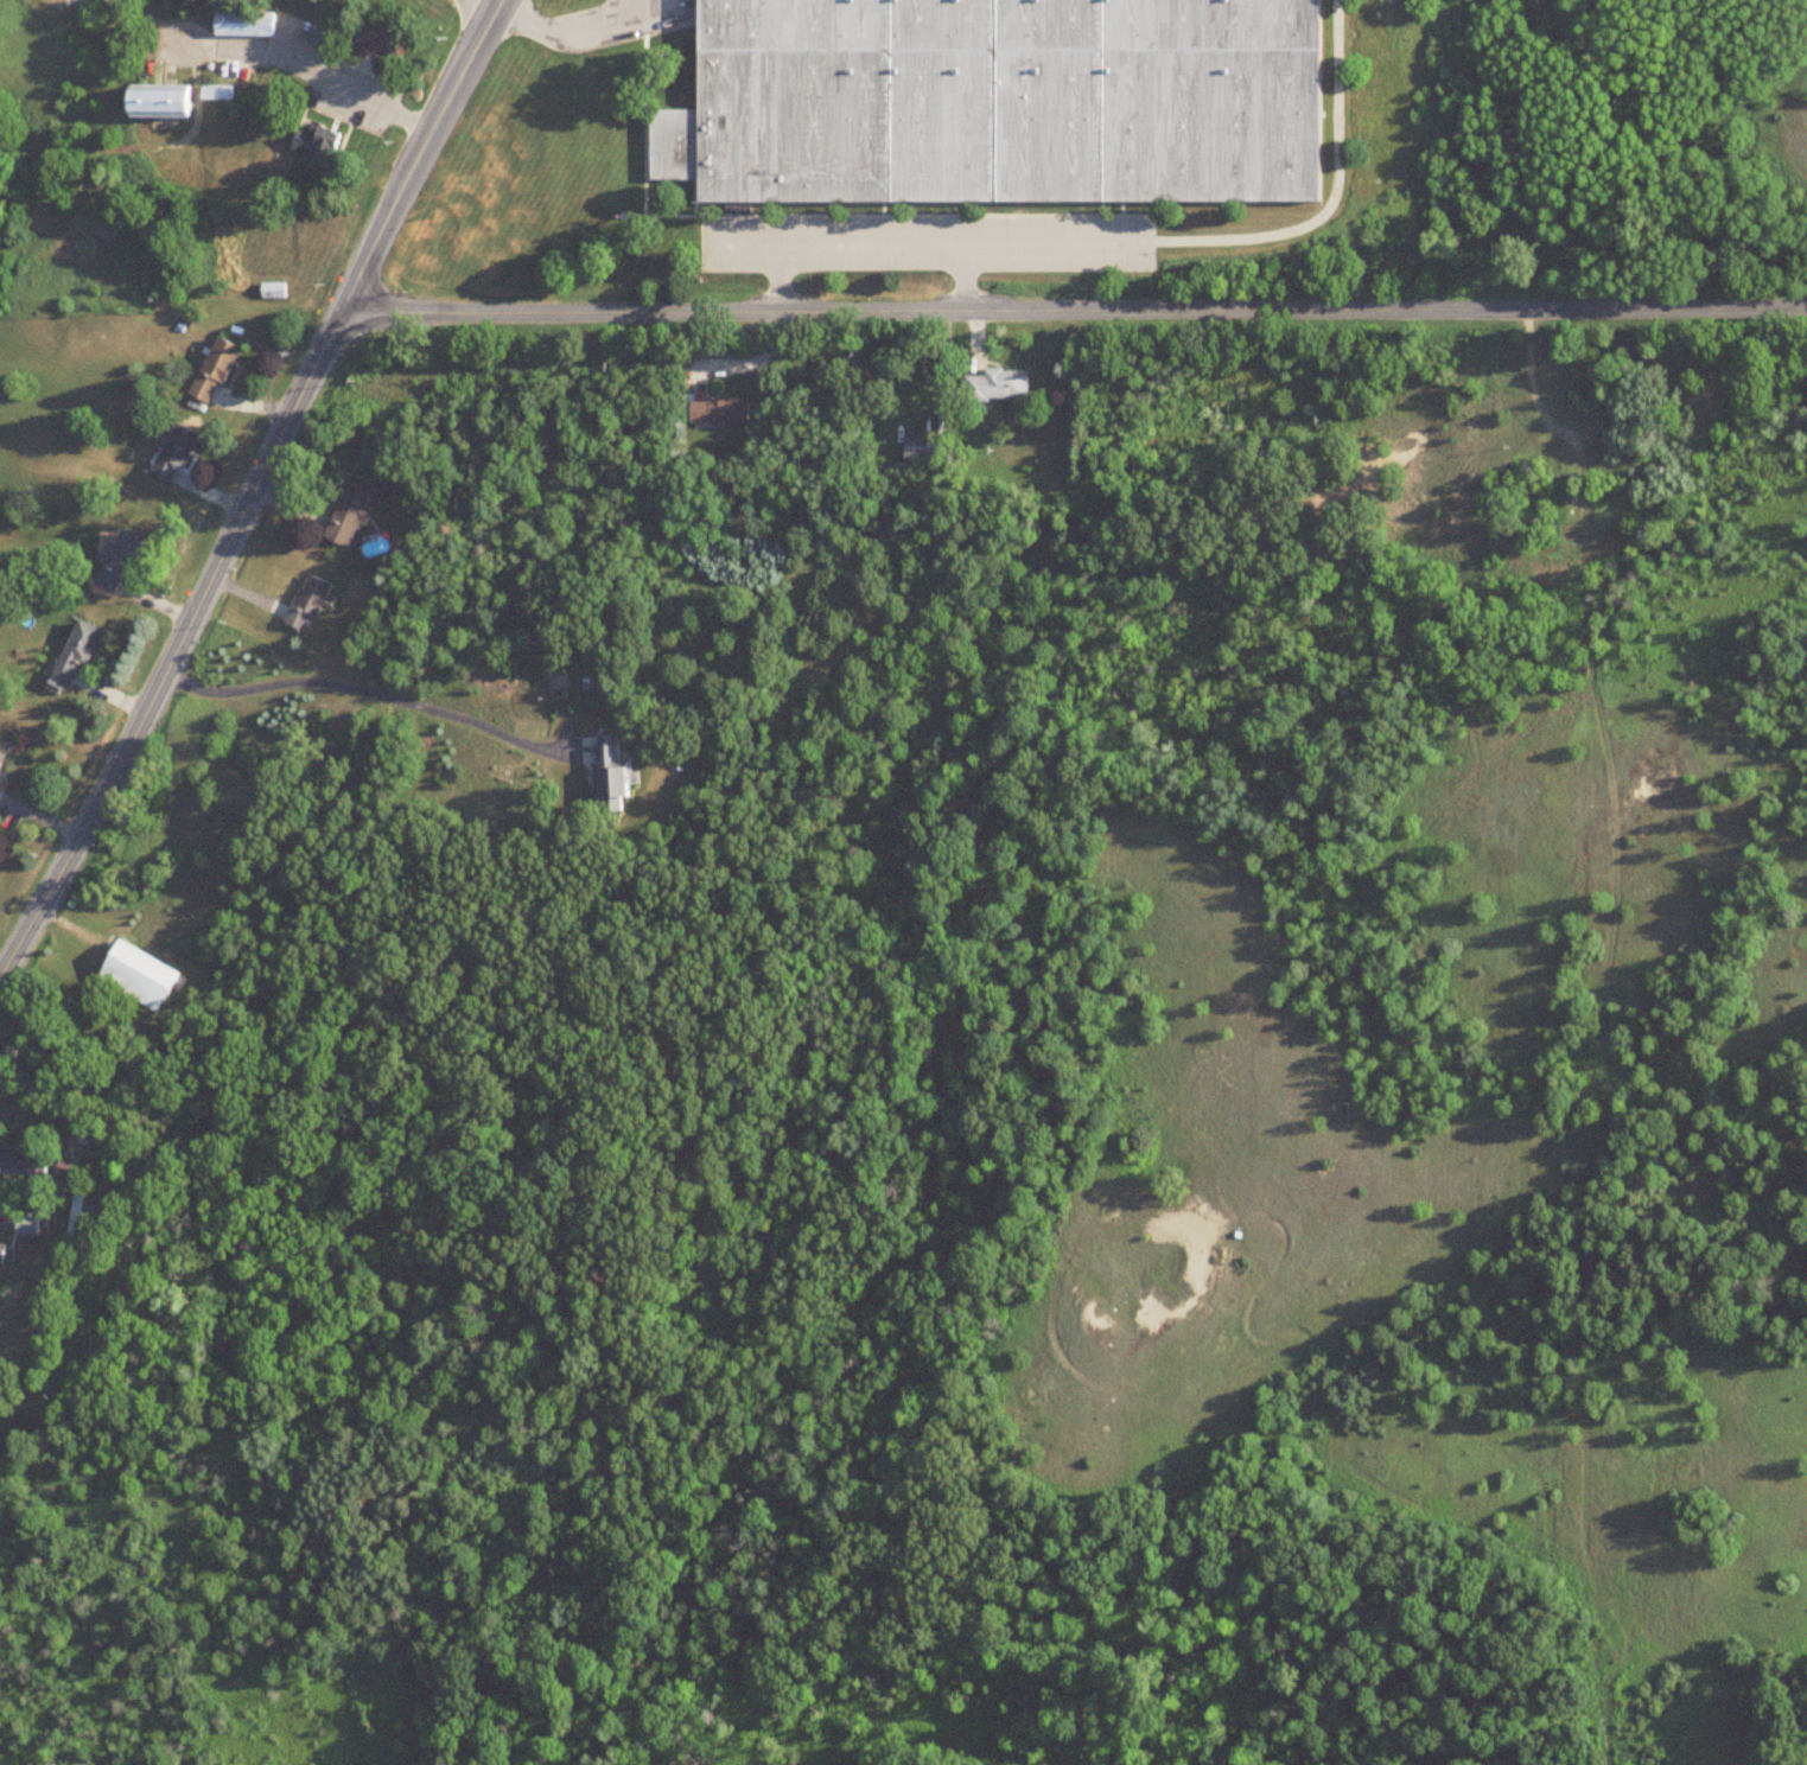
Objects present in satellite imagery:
road: (501, 0)
building: (248, 24)
road: (559, 24)
building: (382, 39)
road: (337, 78)
building: (218, 95)
building: (998, 103)
building: (166, 104)
building: (319, 147)
road: (927, 241)
road: (780, 276)
road: (966, 276)
building: (274, 292)
road: (1071, 311)
building: (219, 368)
building: (1001, 386)
building: (723, 413)
building: (925, 448)
building: (177, 454)
road: (254, 486)
building: (352, 512)
building: (122, 562)
building: (312, 603)
building: (78, 655)
road: (364, 686)
building: (4, 752)
building: (615, 771)
building: (142, 977)
building: (26, 1165)
building: (71, 1170)
building: (89, 1217)
building: (34, 1224)
building: (8, 1257)

